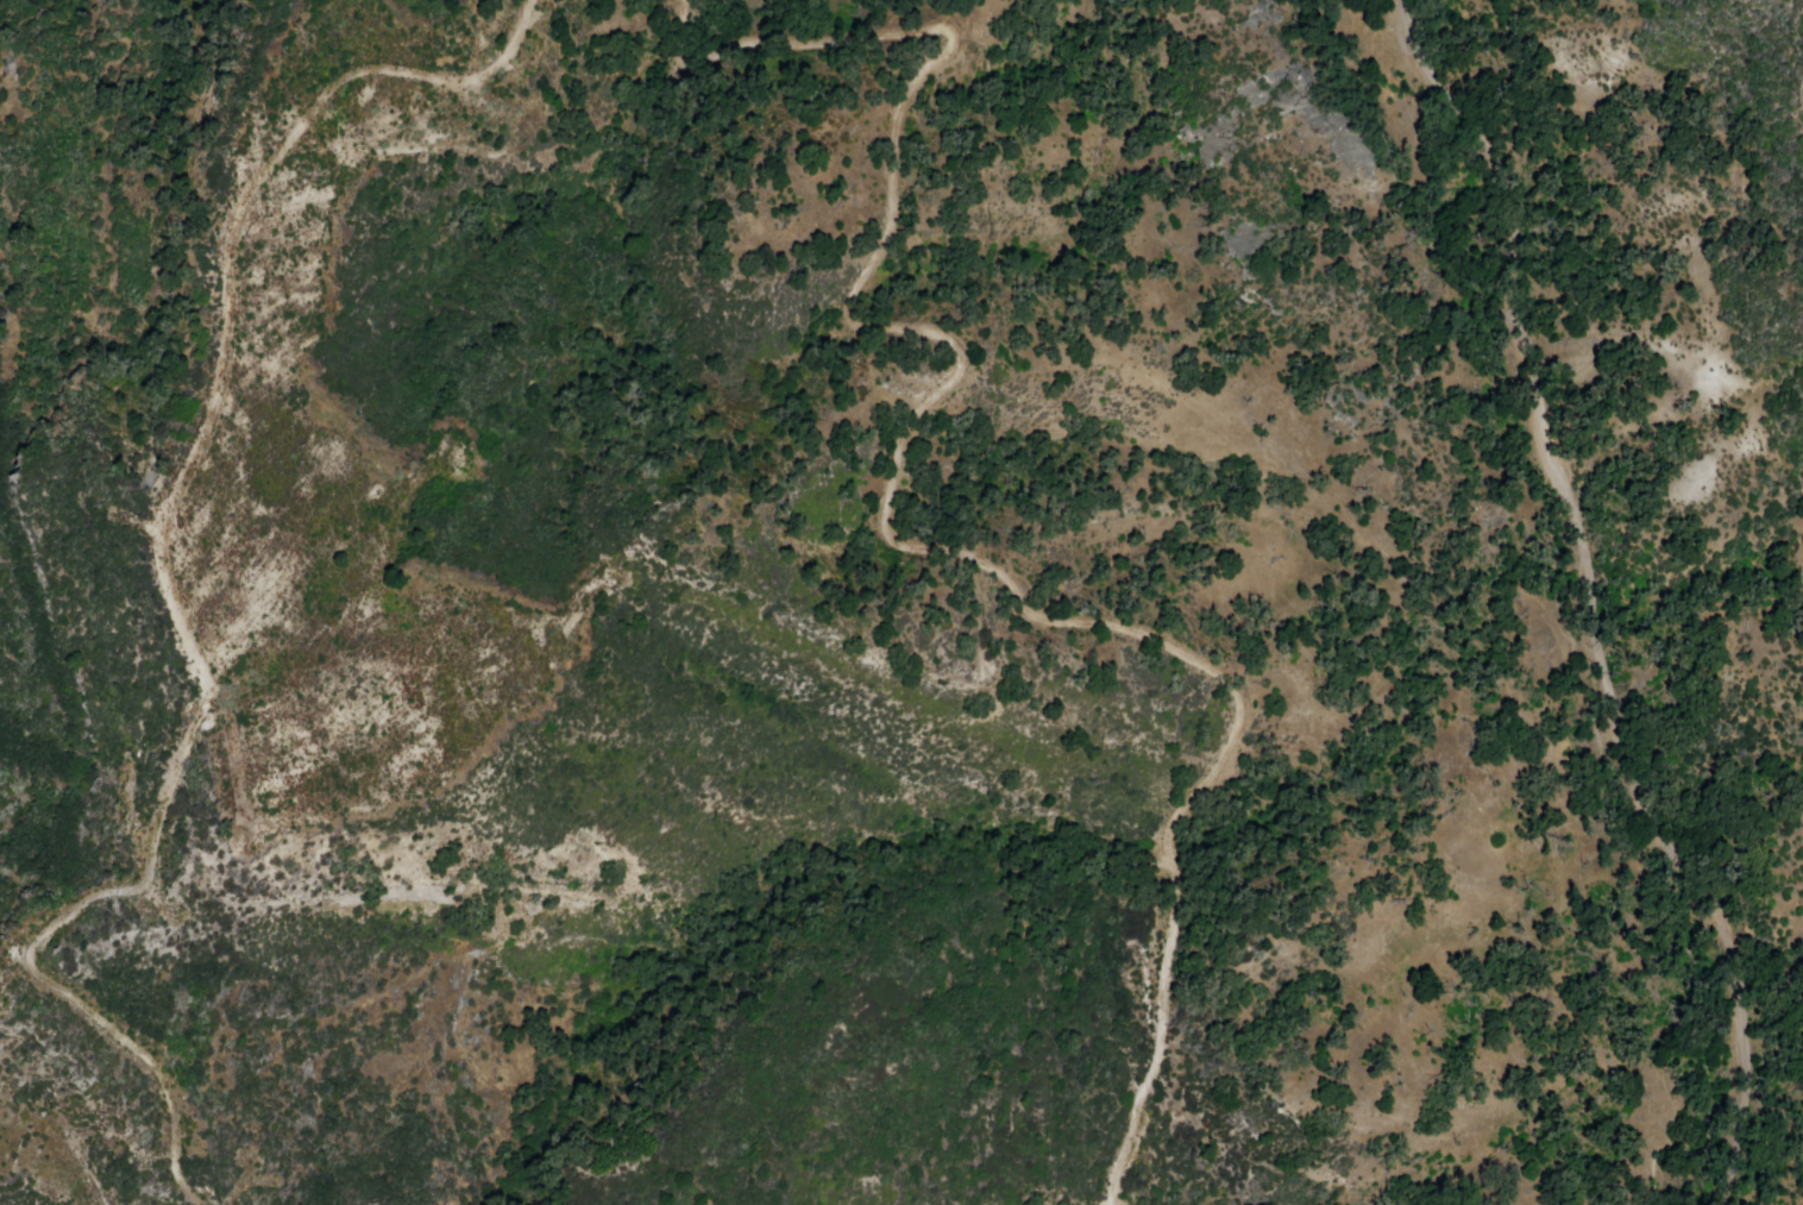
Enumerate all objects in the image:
road: (1573, 600)

